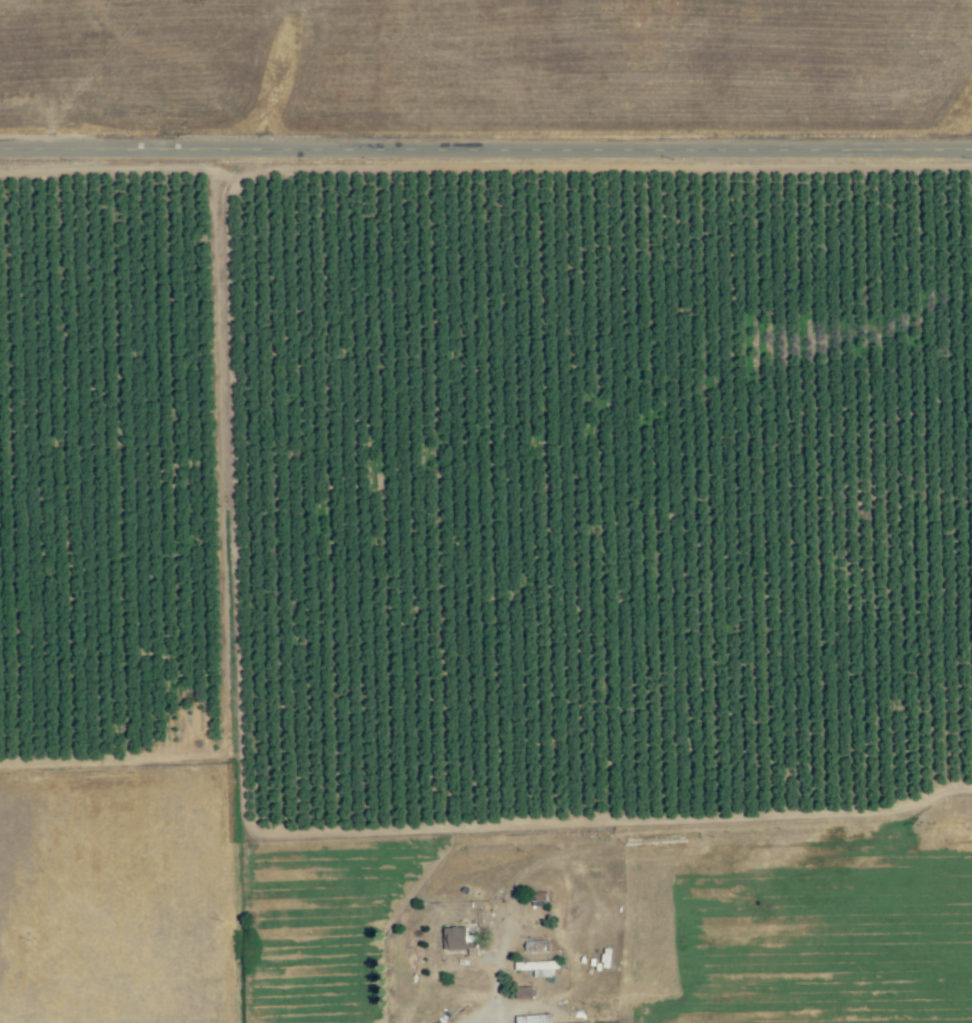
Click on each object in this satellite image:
road: (486, 149)
crop: (485, 588)
building: (458, 940)
building: (535, 947)
building: (529, 966)
building: (524, 993)
building: (533, 1019)
road: (478, 1022)

